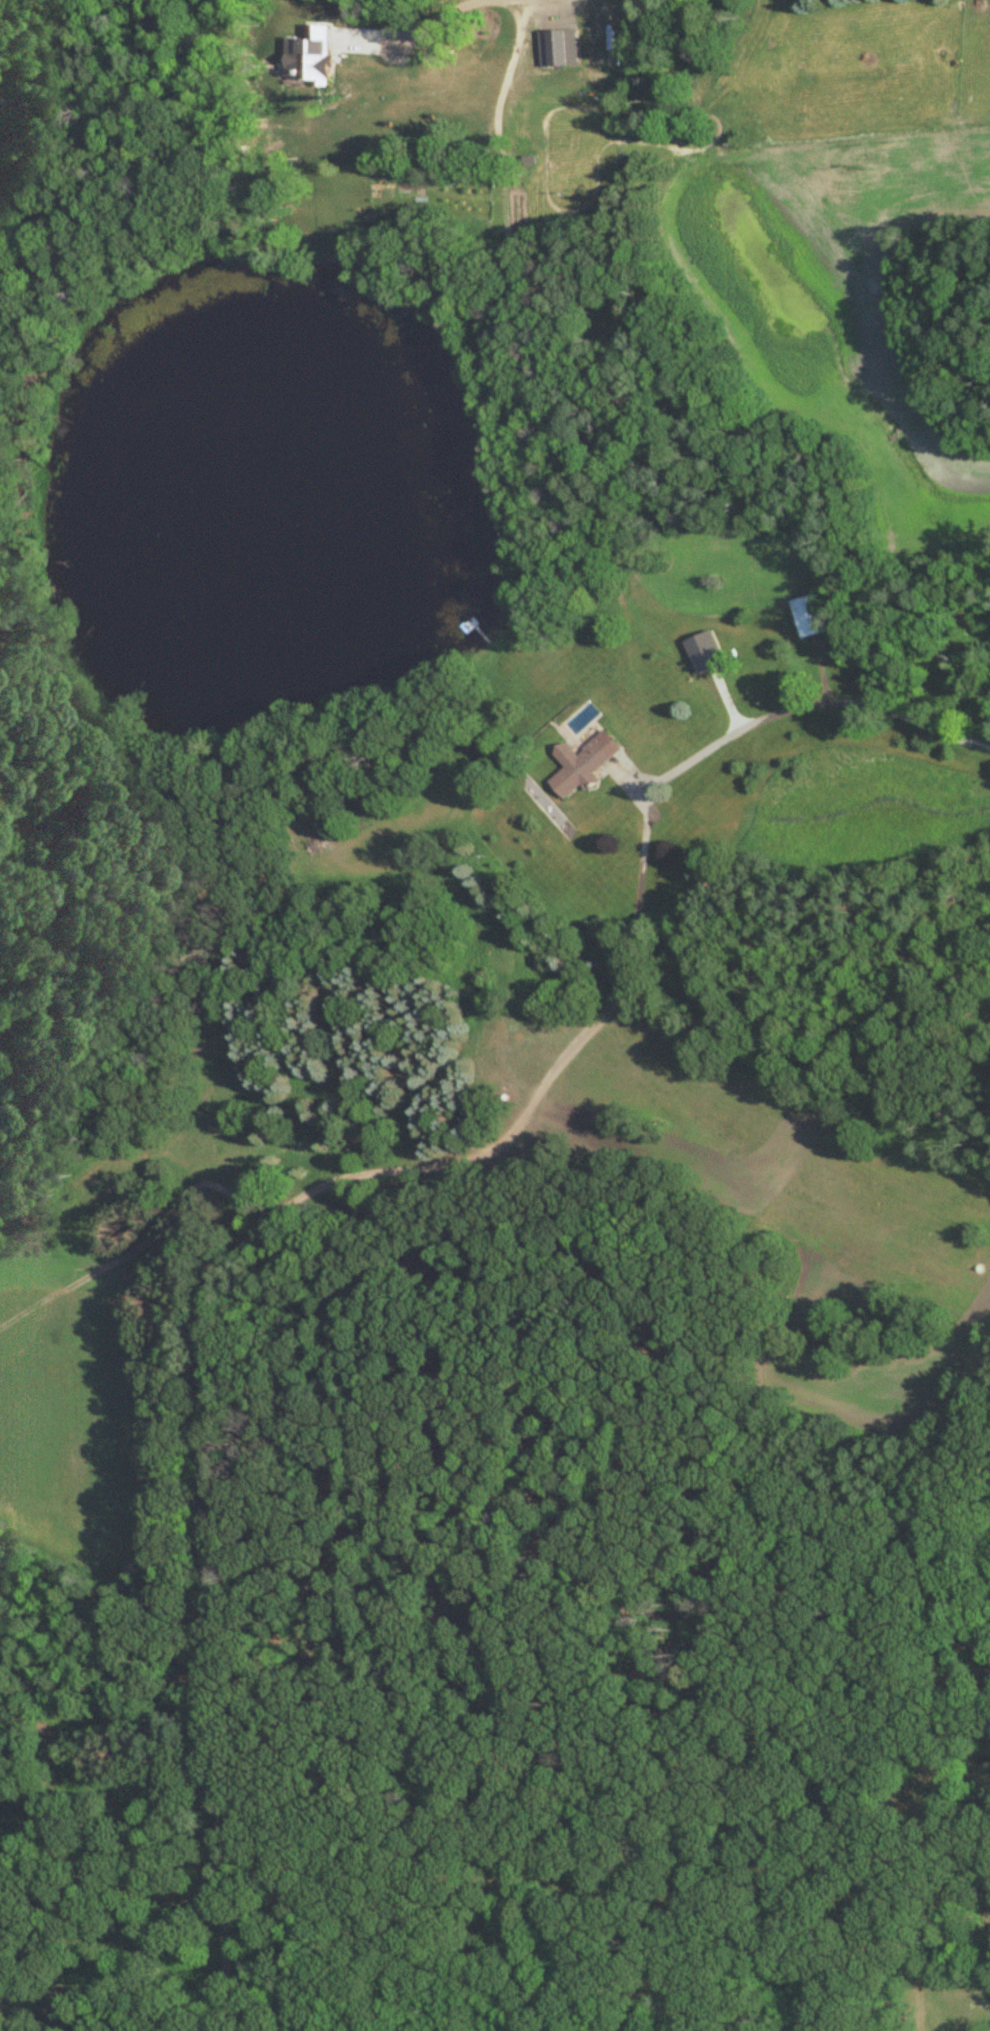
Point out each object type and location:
road: (440, 20)
building: (815, 615)
building: (762, 639)
building: (711, 651)
road: (824, 671)
road: (731, 700)
road: (803, 706)
building: (589, 762)
road: (633, 788)
road: (221, 1304)
crop: (74, 1408)

